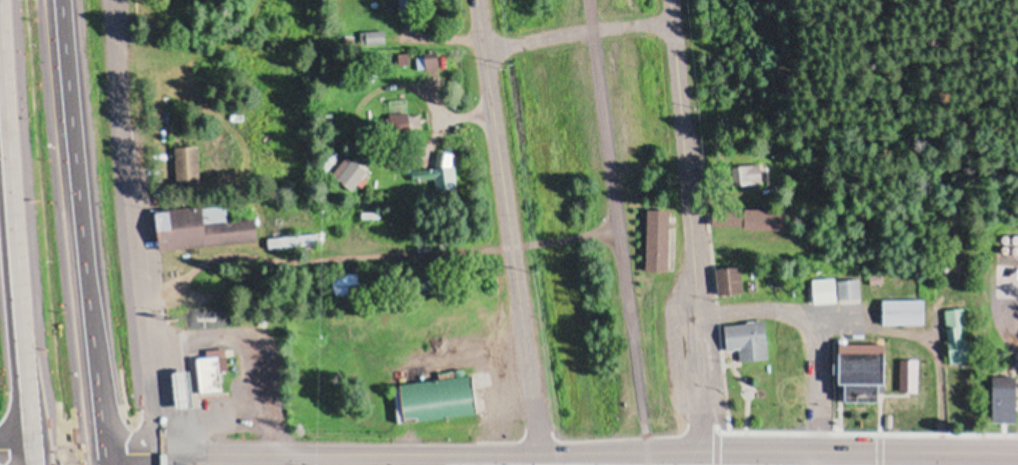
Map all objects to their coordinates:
building: (407, 9)
road: (630, 28)
building: (372, 37)
road: (535, 41)
building: (430, 59)
road: (114, 63)
road: (358, 110)
road: (2, 118)
road: (60, 123)
building: (183, 163)
building: (442, 169)
building: (349, 171)
building: (751, 180)
park: (587, 209)
building: (751, 219)
building: (194, 225)
road: (685, 225)
road: (80, 232)
road: (505, 232)
road: (615, 232)
building: (657, 235)
building: (288, 237)
building: (291, 243)
road: (14, 253)
road: (373, 256)
building: (875, 273)
building: (725, 274)
building: (818, 285)
building: (847, 285)
building: (345, 286)
road: (992, 289)
road: (138, 290)
building: (901, 307)
road: (810, 324)
building: (955, 324)
building: (746, 336)
road: (926, 336)
road: (252, 344)
building: (857, 365)
building: (906, 369)
building: (204, 370)
building: (186, 390)
building: (1002, 393)
building: (435, 395)
road: (15, 450)
road: (524, 454)
road: (881, 457)
road: (158, 459)
building: (703, 464)

